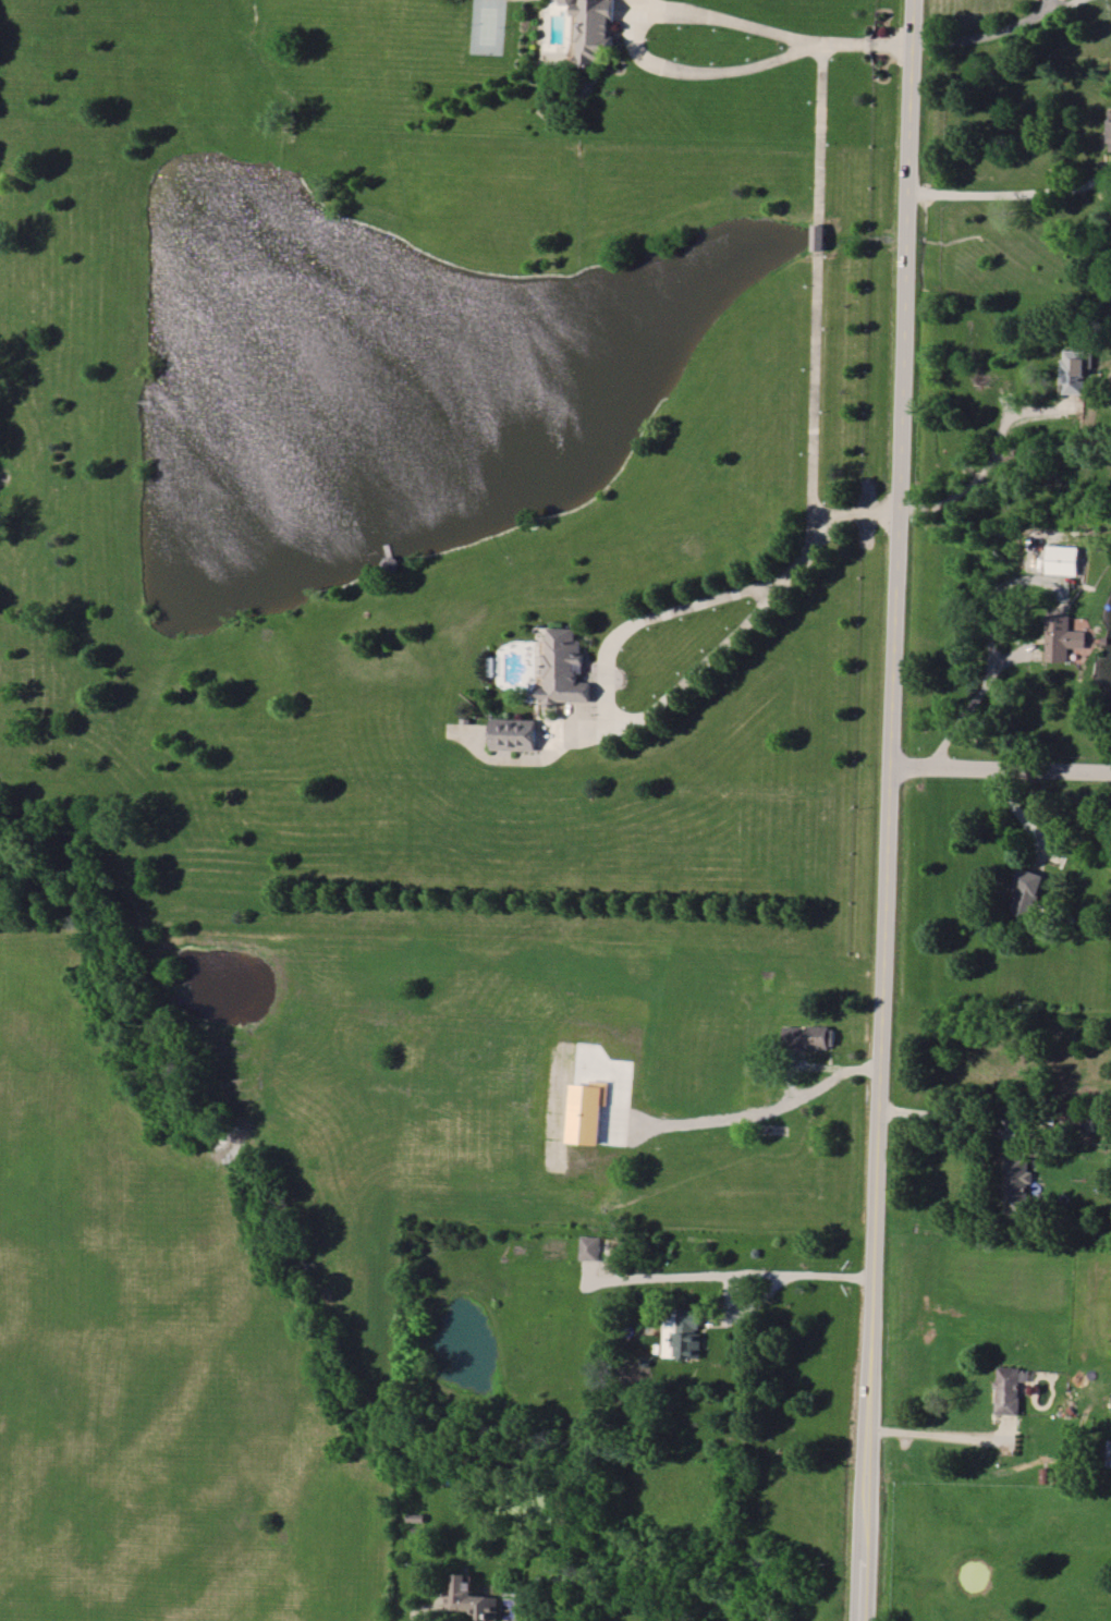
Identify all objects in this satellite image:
building: (591, 31)
road: (981, 34)
road: (638, 39)
building: (1110, 123)
road: (1011, 194)
road: (819, 273)
building: (1073, 371)
road: (986, 465)
building: (1062, 560)
building: (1062, 637)
building: (564, 668)
road: (964, 710)
road: (637, 720)
building: (512, 734)
road: (1001, 770)
road: (890, 810)
road: (1023, 816)
building: (1026, 890)
building: (810, 1037)
building: (757, 1090)
building: (586, 1111)
road: (769, 1112)
road: (952, 1117)
building: (1016, 1182)
building: (589, 1247)
road: (759, 1300)
building: (1009, 1390)
road: (939, 1435)
building: (449, 1474)
building: (472, 1599)

